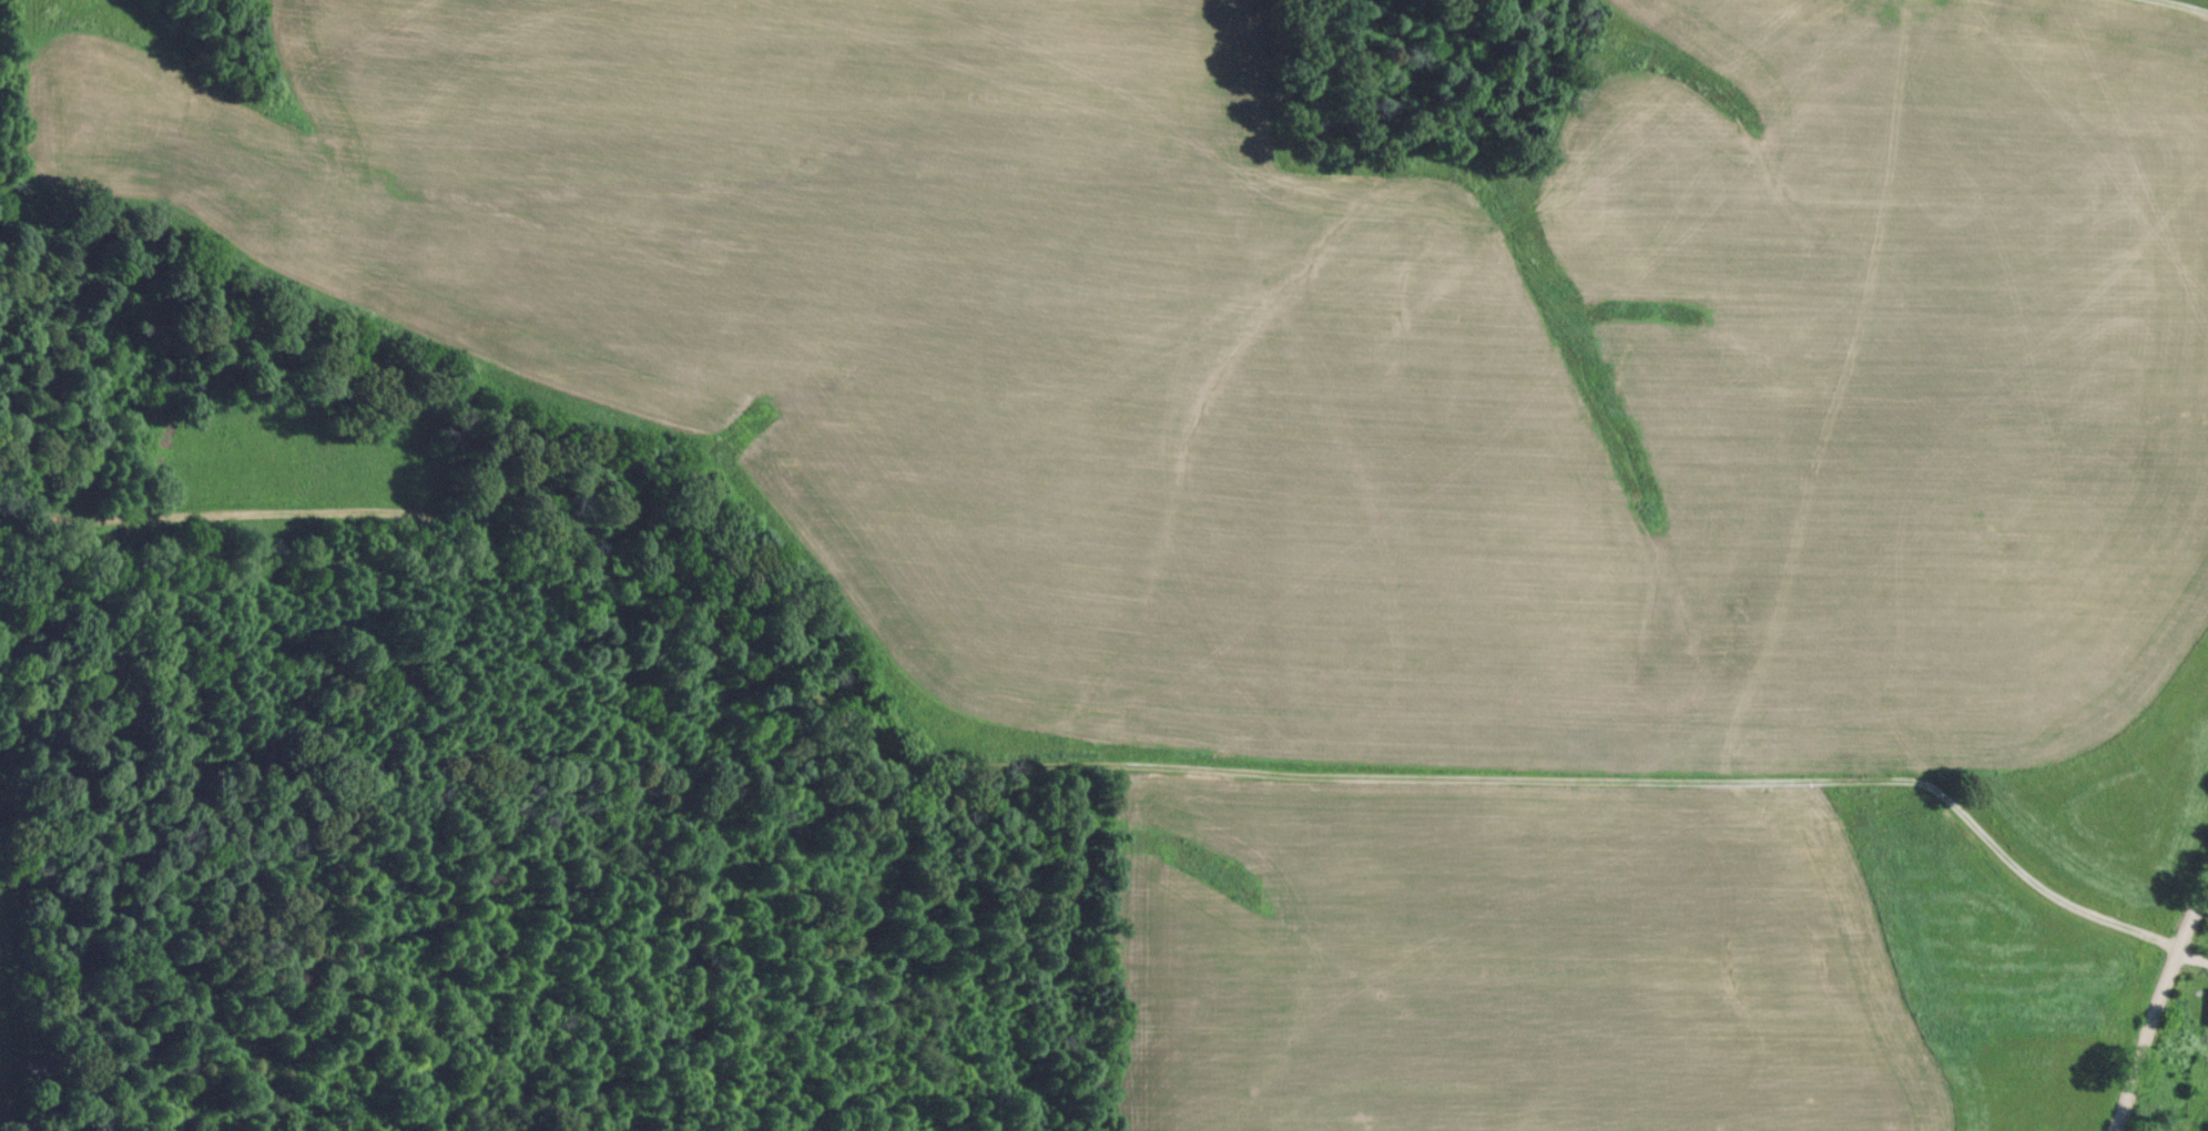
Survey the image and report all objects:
road: (2158, 1003)

